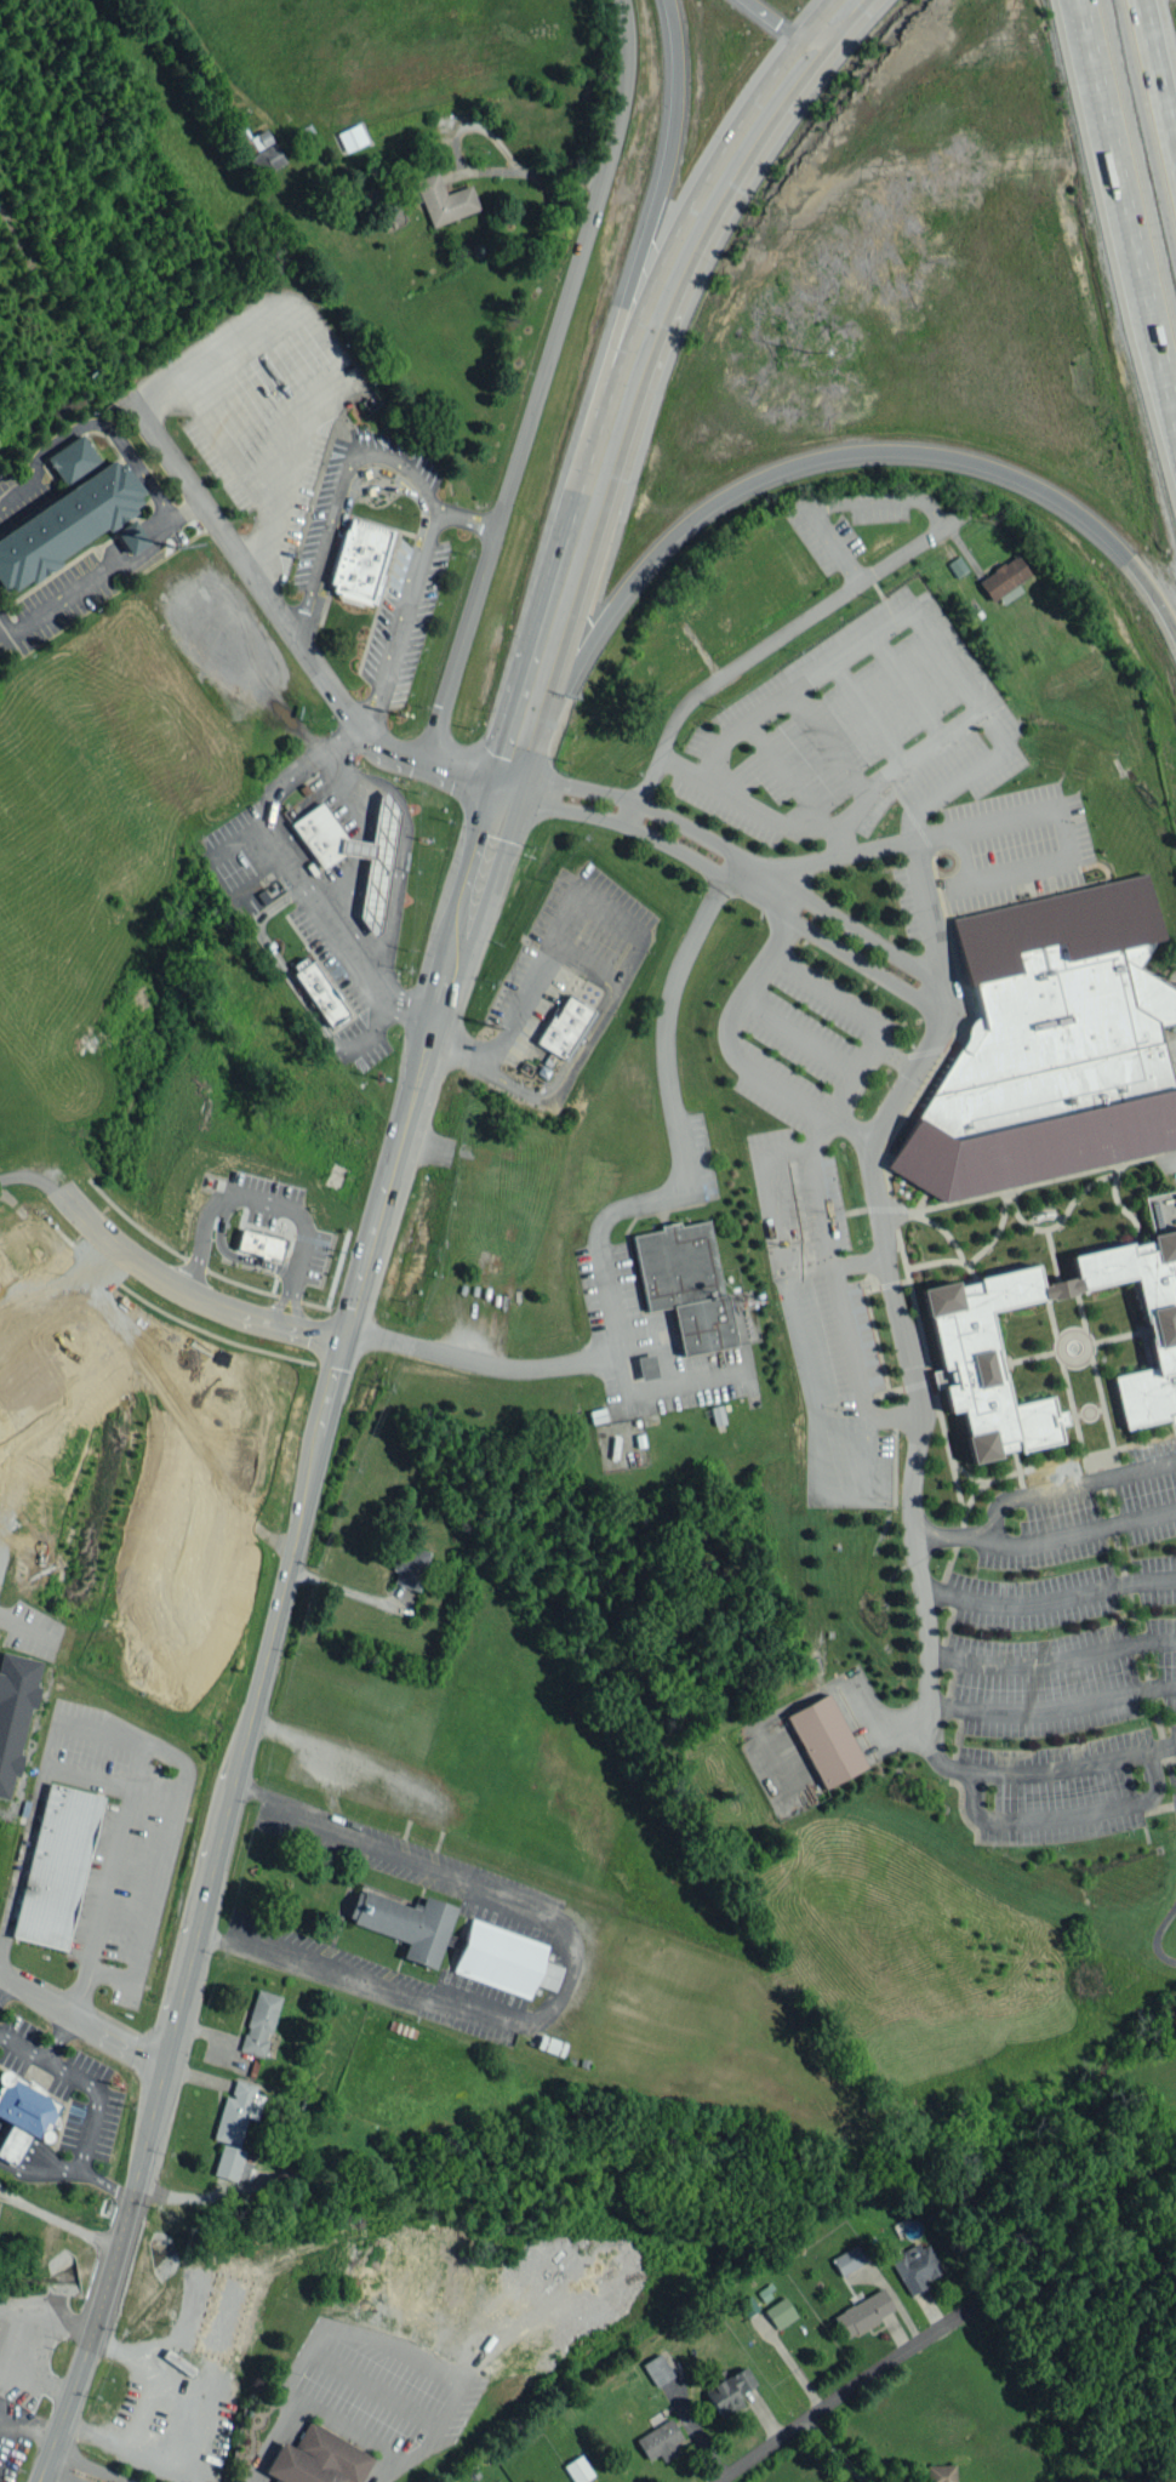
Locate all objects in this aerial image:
road: (827, 18)
road: (786, 19)
road: (1159, 69)
building: (352, 137)
building: (264, 153)
road: (466, 171)
building: (444, 199)
road: (653, 209)
road: (1125, 216)
road: (698, 218)
road: (541, 380)
parking lot: (257, 415)
road: (108, 430)
road: (840, 452)
building: (73, 460)
road: (383, 470)
road: (13, 481)
road: (379, 486)
road: (278, 490)
road: (339, 493)
road: (183, 506)
road: (466, 520)
road: (155, 523)
building: (65, 524)
parking lot: (838, 531)
building: (130, 536)
road: (132, 538)
building: (360, 561)
building: (1005, 580)
road: (62, 593)
road: (266, 593)
road: (560, 598)
road: (400, 618)
road: (771, 641)
road: (980, 702)
parking lot: (890, 765)
road: (470, 766)
road: (965, 775)
traffic signals: (508, 780)
road: (529, 786)
road: (660, 811)
gas station: (320, 834)
road: (1066, 835)
road: (839, 839)
road: (403, 841)
road: (858, 854)
building: (375, 861)
road: (297, 871)
building: (940, 881)
road: (750, 889)
road: (565, 920)
road: (847, 924)
road: (930, 951)
road: (278, 960)
road: (755, 977)
road: (824, 987)
building: (319, 989)
road: (664, 1015)
road: (371, 1027)
building: (565, 1027)
road: (800, 1034)
building: (1050, 1046)
parking lot: (793, 1049)
road: (891, 1056)
road: (565, 1068)
road: (858, 1071)
road: (902, 1078)
road: (790, 1094)
parking lot: (702, 1154)
road: (806, 1154)
road: (239, 1194)
road: (638, 1202)
building: (1159, 1204)
building: (261, 1243)
road: (229, 1253)
road: (801, 1263)
road: (282, 1266)
building: (684, 1283)
road: (606, 1289)
road: (184, 1290)
road: (282, 1295)
road: (296, 1297)
parking lot: (823, 1322)
traffic signals: (344, 1333)
road: (898, 1336)
parking lot: (647, 1346)
building: (965, 1352)
road: (480, 1363)
building: (645, 1366)
road: (889, 1414)
road: (181, 1426)
road: (1034, 1490)
road: (840, 1494)
road: (1071, 1544)
building: (410, 1565)
road: (1049, 1603)
road: (272, 1630)
parking lot: (1072, 1661)
road: (1050, 1668)
building: (13, 1711)
road: (1050, 1717)
building: (824, 1740)
road: (162, 1752)
road: (1058, 1776)
road: (41, 1780)
road: (970, 1788)
building: (56, 1865)
building: (406, 1923)
building: (504, 1959)
road: (567, 1974)
road: (4, 1990)
building: (259, 2022)
road: (80, 2026)
road: (44, 2059)
road: (96, 2102)
building: (238, 2111)
building: (24, 2115)
road: (11, 2149)
building: (233, 2163)
road: (78, 2173)
building: (282, 2181)
road: (59, 2216)
building: (847, 2259)
building: (915, 2266)
building: (780, 2312)
building: (863, 2312)
building: (656, 2369)
road: (176, 2386)
road: (452, 2389)
building: (729, 2391)
road: (202, 2402)
road: (141, 2403)
road: (809, 2417)
road: (25, 2432)
building: (660, 2440)
road: (268, 2441)
road: (835, 2449)
building: (318, 2458)
road: (55, 2460)
road: (78, 2463)
road: (383, 2469)
building: (577, 2469)
building: (940, 2472)

